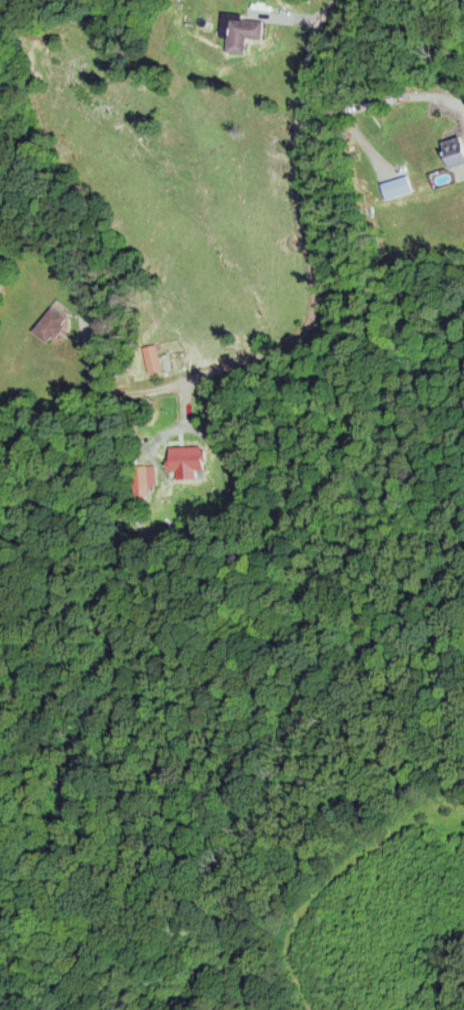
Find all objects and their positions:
road: (291, 16)
building: (244, 33)
road: (376, 101)
building: (453, 150)
road: (295, 219)
road: (117, 423)
building: (189, 456)

